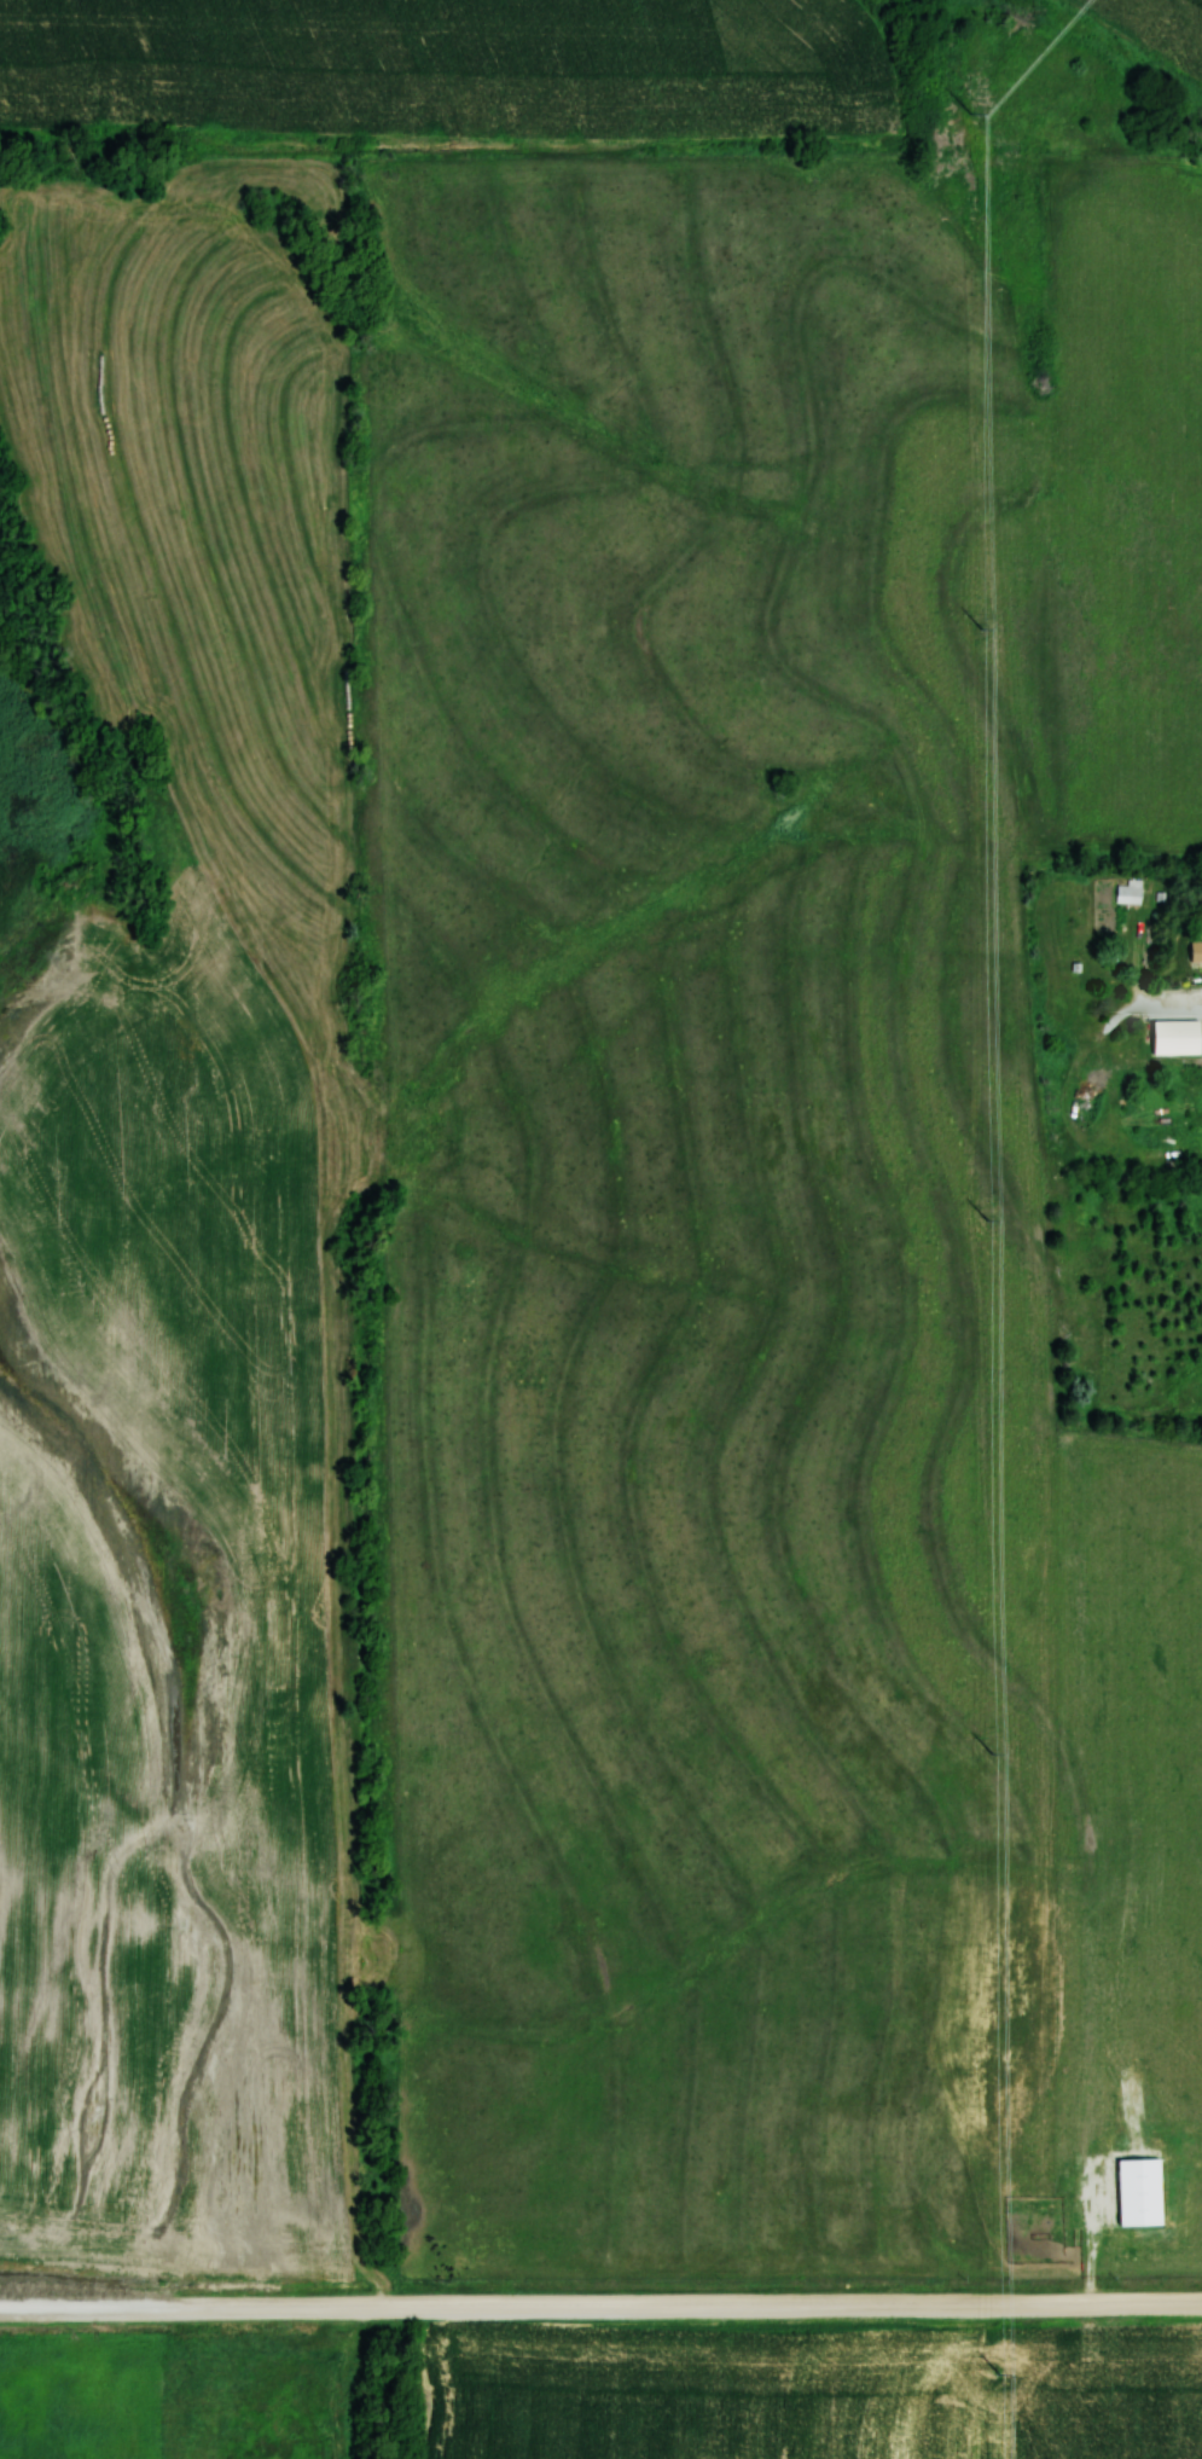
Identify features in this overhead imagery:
power tower: (976, 114)
power tower: (980, 621)
building: (1127, 893)
building: (1195, 950)
building: (1173, 1036)
power tower: (986, 1213)
power tower: (992, 1746)
road: (600, 2306)
power tower: (998, 2376)

